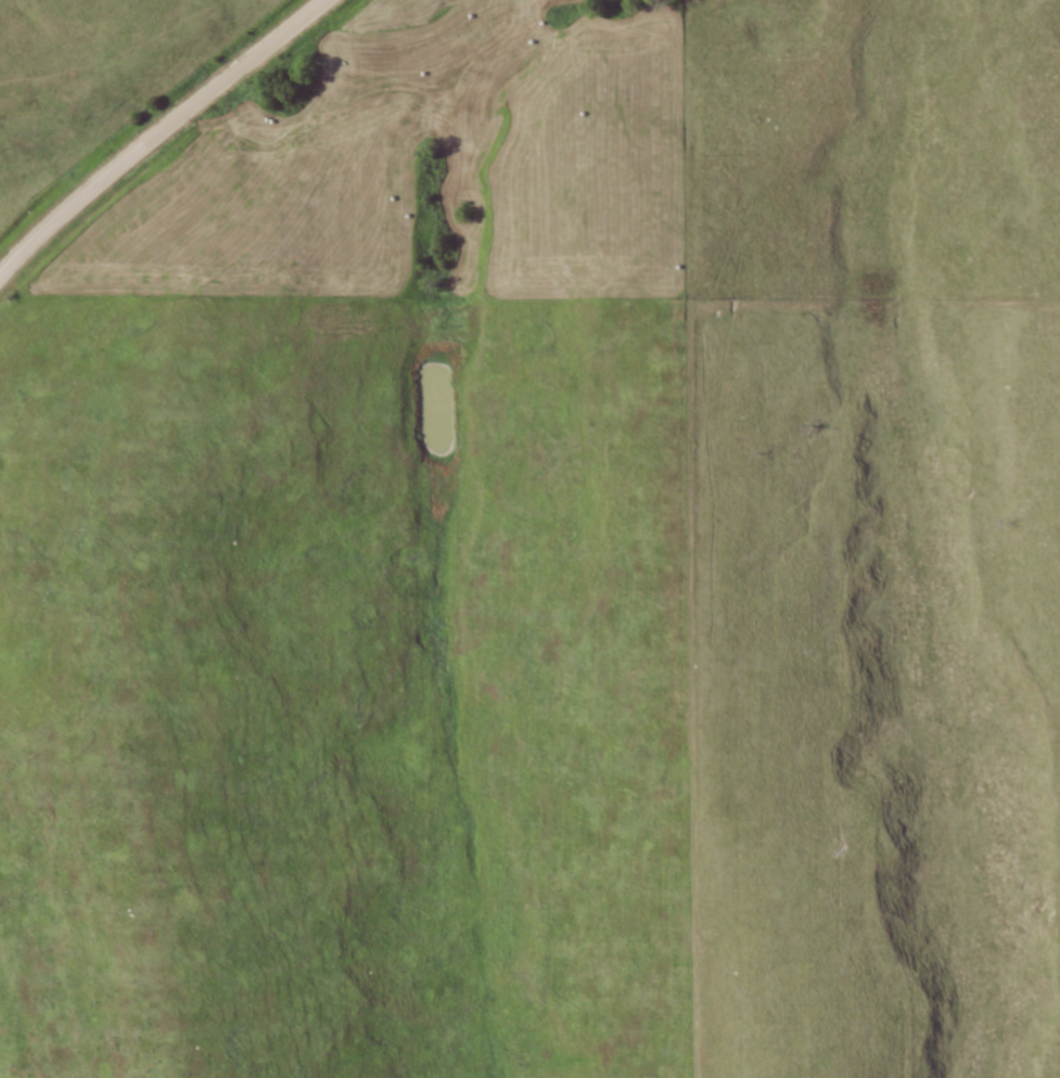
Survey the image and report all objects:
road: (157, 132)

